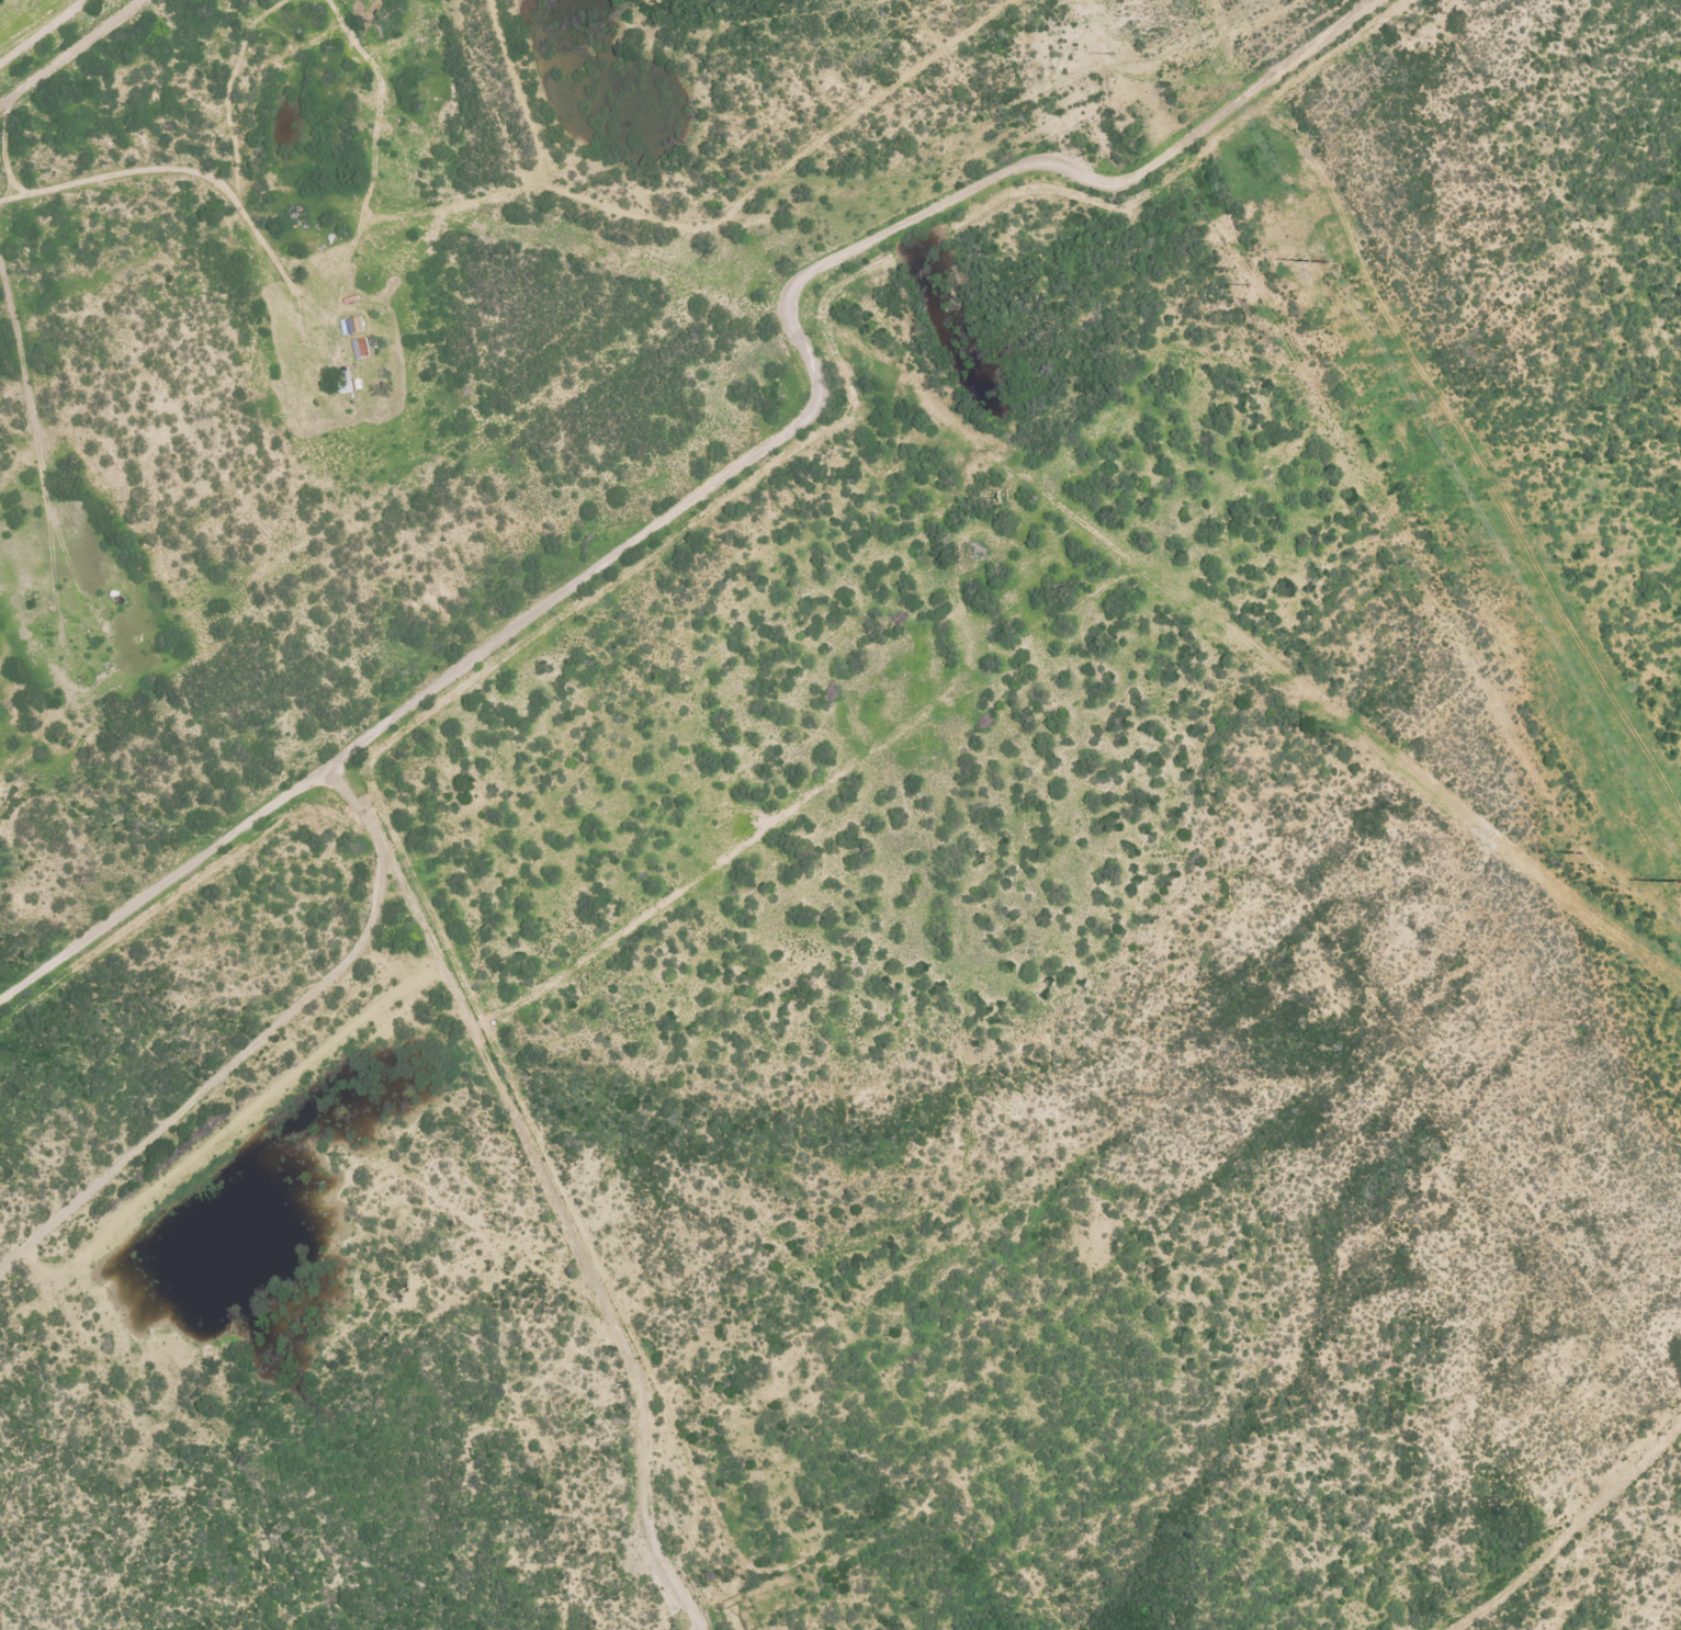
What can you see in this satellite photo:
power tower: (1112, 54)
road: (584, 216)
power tower: (1327, 268)
power tower: (1246, 284)
building: (361, 348)
building: (347, 381)
power tower: (1411, 564)
power tower: (1580, 853)
road: (921, 1199)
road: (1562, 1540)

